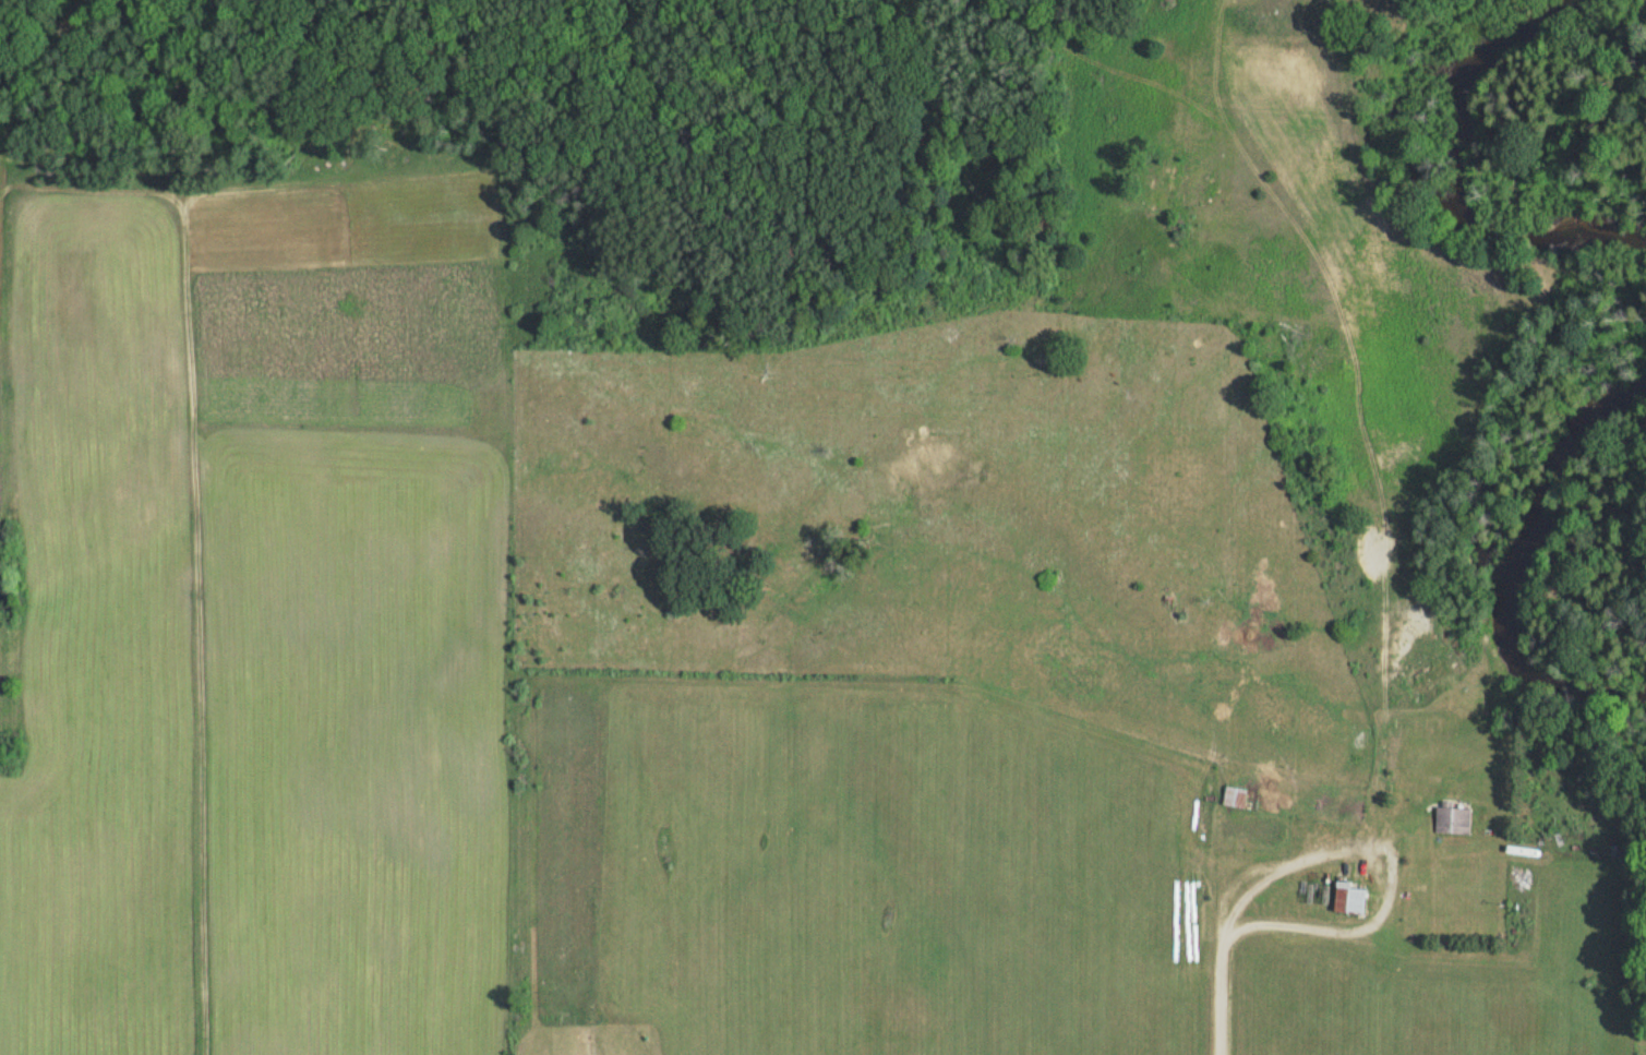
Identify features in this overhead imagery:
river: (1454, 178)
river: (1515, 570)
building: (1240, 798)
building: (1455, 819)
building: (1356, 898)
road: (1621, 937)
road: (1227, 954)

